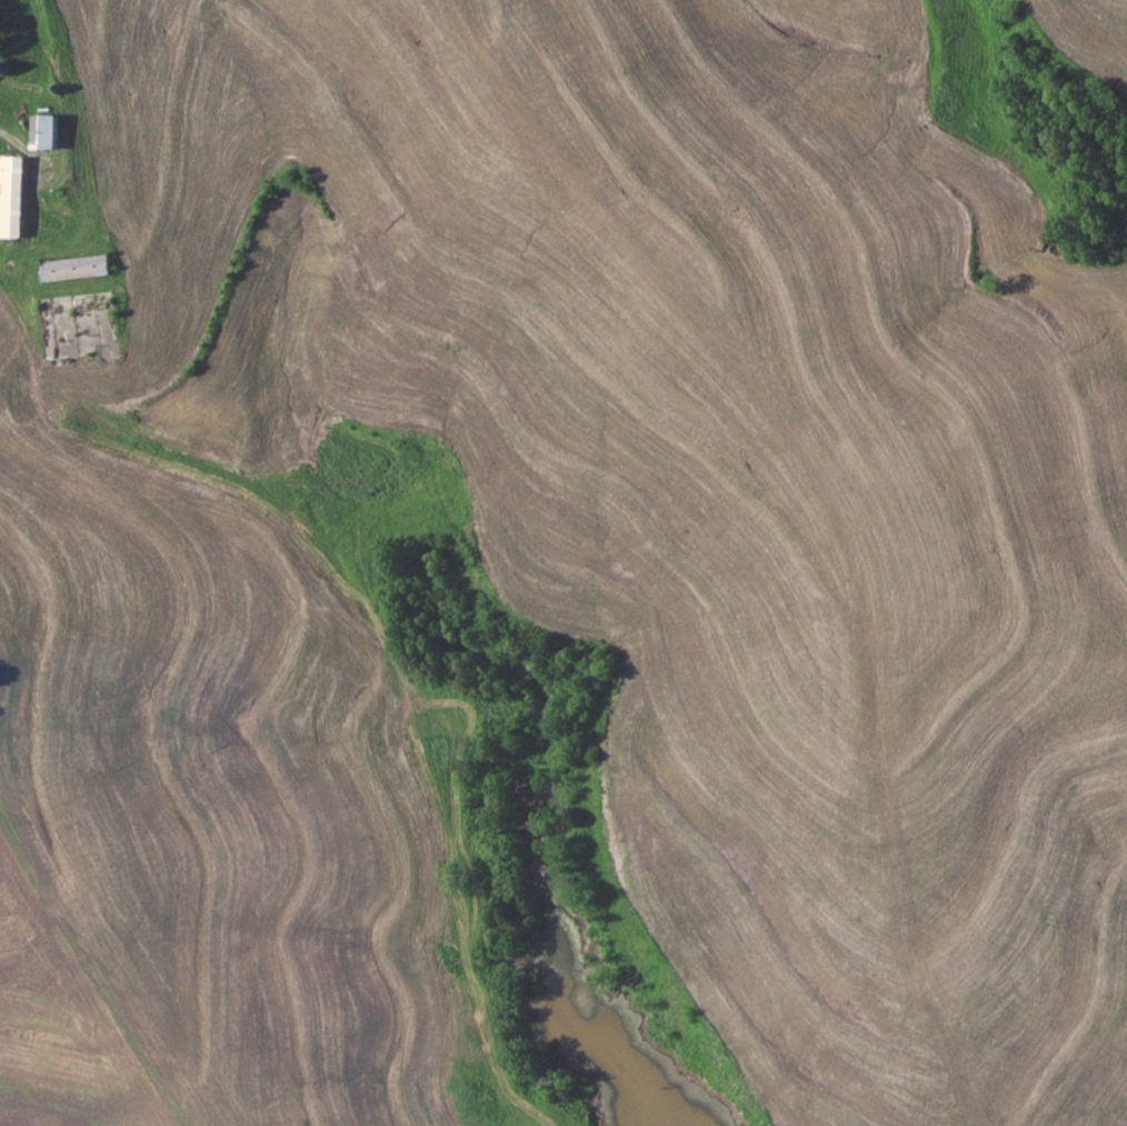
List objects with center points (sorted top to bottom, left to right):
building: (39, 128)
building: (8, 192)
building: (61, 265)

